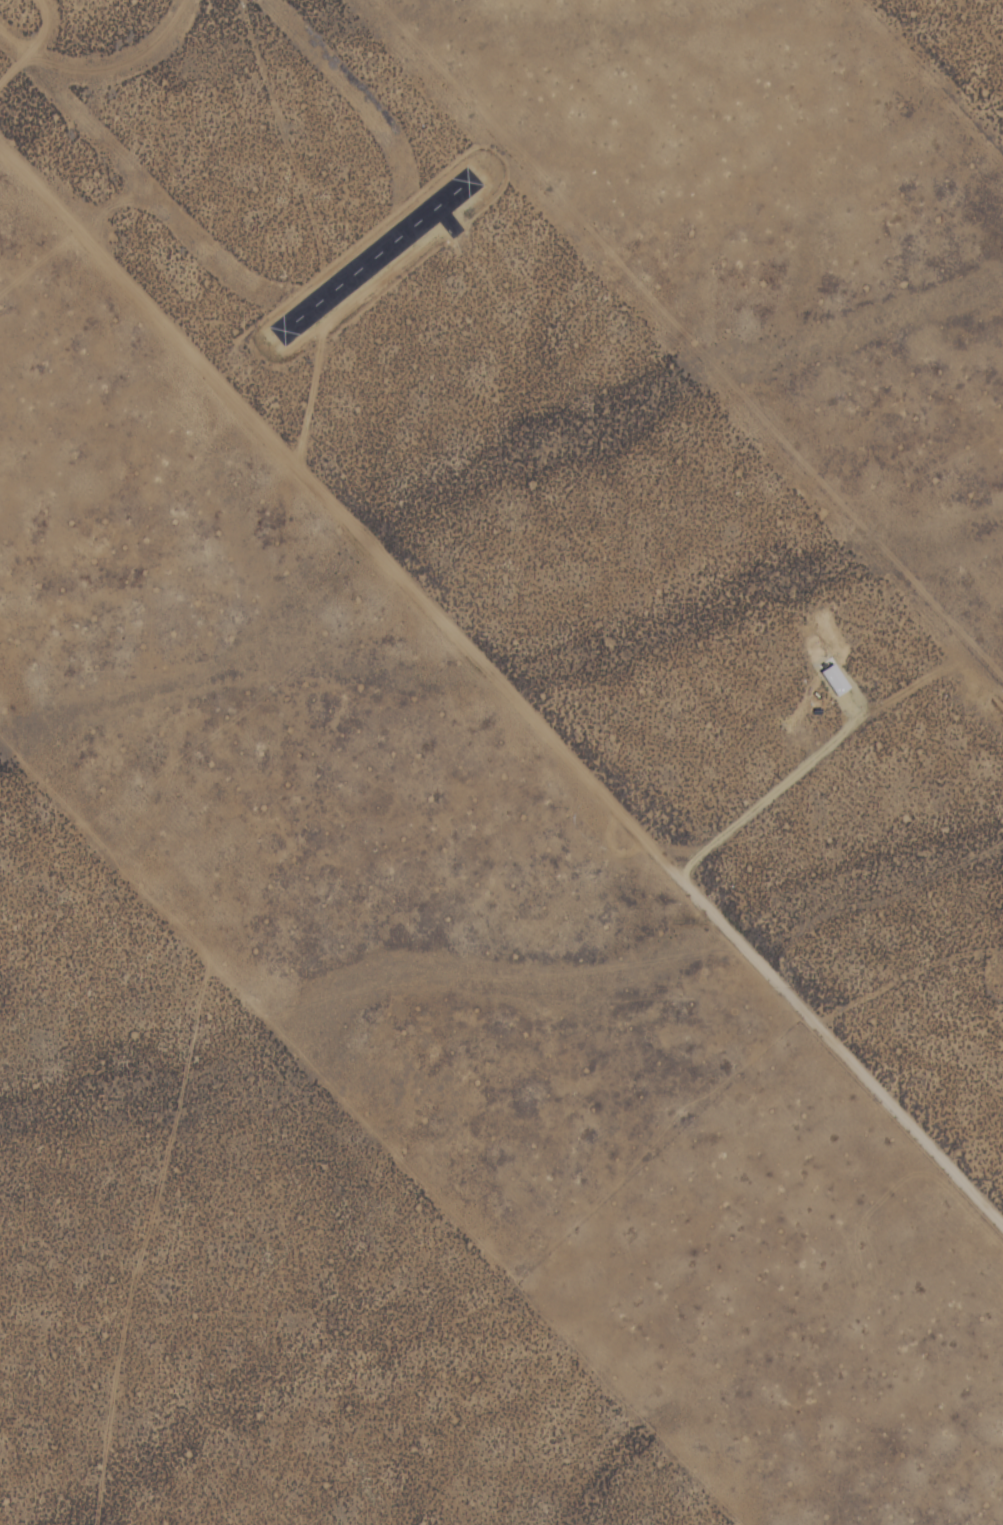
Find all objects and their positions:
airport taxiway: (447, 218)
airport runway: (375, 253)
airport: (384, 261)
road: (501, 687)
road: (177, 1520)

